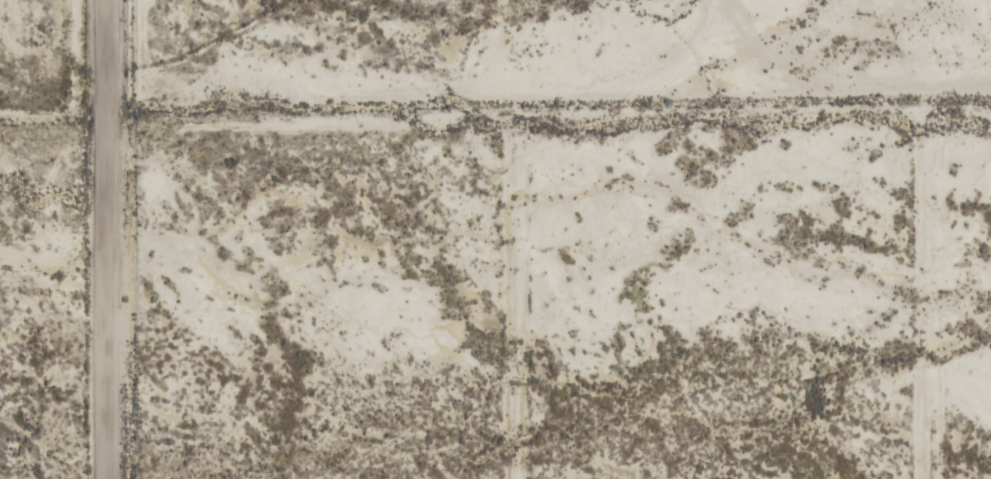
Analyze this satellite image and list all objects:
road: (109, 239)

